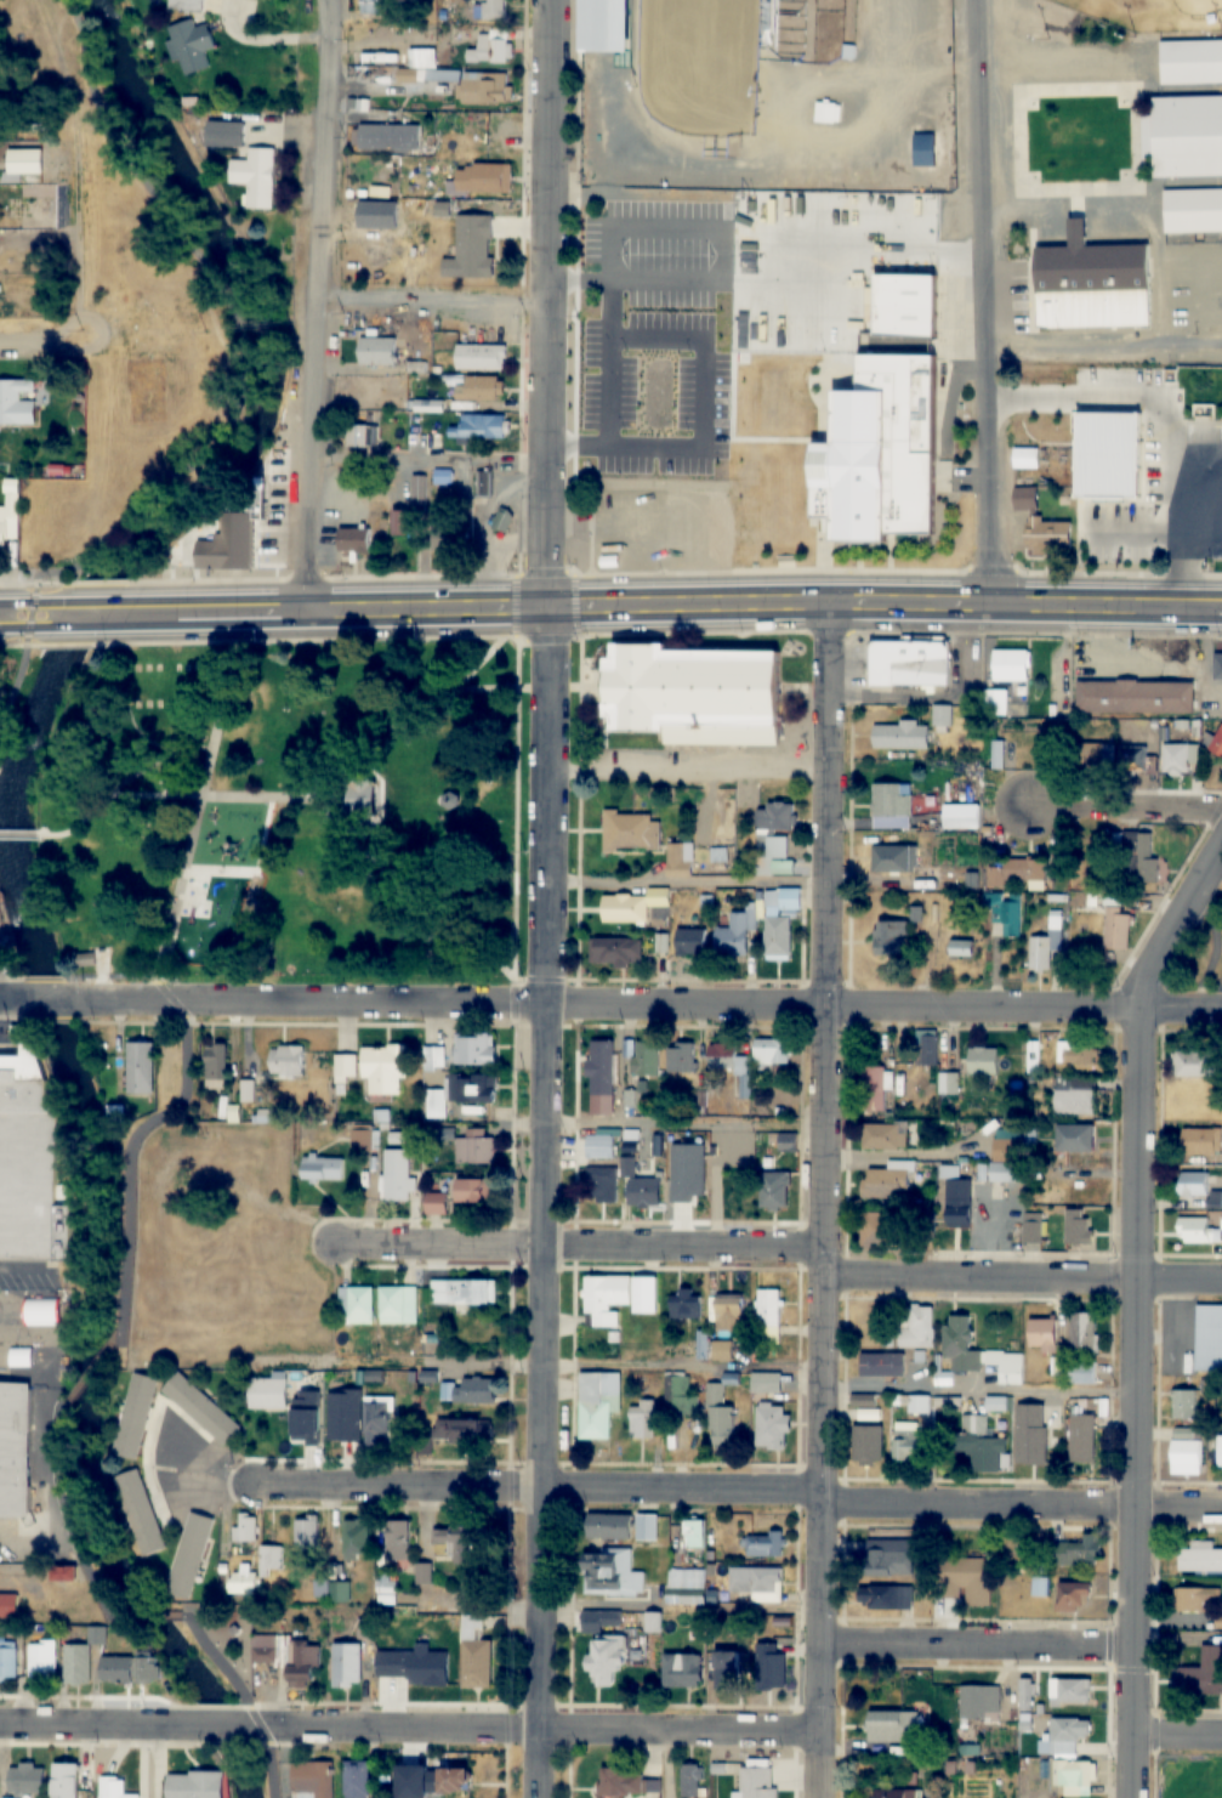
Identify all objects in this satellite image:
building: (187, 5)
building: (370, 7)
building: (499, 8)
park: (1158, 12)
building: (603, 27)
building: (189, 45)
building: (490, 49)
building: (1190, 63)
building: (455, 79)
building: (829, 112)
building: (224, 135)
building: (387, 137)
building: (1187, 137)
building: (925, 149)
building: (23, 163)
building: (260, 178)
building: (482, 178)
building: (1194, 210)
road: (596, 238)
building: (471, 249)
road: (570, 285)
building: (1093, 285)
road: (545, 302)
road: (972, 302)
road: (305, 306)
building: (903, 306)
road: (425, 307)
road: (27, 336)
parking lot: (640, 340)
building: (481, 358)
building: (479, 388)
road: (238, 395)
building: (648, 395)
road: (687, 399)
building: (1218, 401)
road: (1062, 402)
building: (16, 403)
building: (428, 405)
building: (479, 426)
building: (362, 436)
parking lot: (1193, 439)
building: (879, 452)
building: (1087, 458)
building: (443, 477)
building: (483, 484)
building: (251, 494)
building: (1027, 499)
building: (1217, 505)
building: (411, 514)
road: (1175, 521)
building: (2, 529)
building: (352, 533)
building: (1116, 535)
building: (1050, 537)
building: (237, 540)
road: (1195, 543)
building: (448, 545)
road: (669, 607)
road: (83, 616)
road: (23, 617)
building: (911, 664)
building: (1011, 664)
building: (1218, 667)
building: (1137, 691)
road: (516, 692)
road: (421, 699)
building: (995, 702)
parking lot: (0, 703)
building: (678, 703)
road: (227, 704)
building: (942, 715)
building: (905, 737)
building: (1217, 743)
building: (999, 756)
building: (1096, 758)
building: (1132, 758)
building: (1182, 758)
building: (18, 767)
road: (682, 772)
building: (451, 800)
building: (360, 802)
road: (1125, 804)
building: (892, 806)
road: (199, 813)
park: (285, 815)
building: (962, 816)
building: (775, 817)
building: (631, 833)
road: (19, 835)
building: (612, 841)
building: (894, 858)
building: (1146, 861)
building: (678, 863)
river: (15, 866)
road: (386, 870)
building: (1018, 870)
building: (931, 875)
building: (625, 909)
building: (1011, 914)
building: (780, 921)
building: (1118, 929)
road: (2, 932)
building: (734, 937)
building: (892, 937)
building: (690, 942)
building: (1046, 947)
building: (961, 948)
building: (616, 952)
building: (85, 958)
parking lot: (4, 963)
road: (5, 982)
road: (13, 1000)
road: (50, 1000)
road: (124, 1000)
road: (360, 1002)
road: (699, 1006)
road: (1036, 1009)
road: (7, 1033)
building: (474, 1048)
building: (928, 1048)
road: (10, 1050)
building: (773, 1051)
building: (1076, 1053)
building: (722, 1055)
building: (433, 1057)
building: (646, 1057)
building: (681, 1057)
building: (1034, 1057)
building: (289, 1061)
building: (983, 1061)
building: (1195, 1062)
building: (216, 1065)
building: (602, 1066)
building: (140, 1067)
building: (345, 1067)
building: (385, 1067)
building: (434, 1084)
building: (949, 1087)
building: (471, 1088)
building: (875, 1088)
building: (248, 1090)
building: (1075, 1096)
building: (434, 1104)
building: (114, 1113)
building: (233, 1113)
building: (265, 1116)
building: (380, 1116)
road: (686, 1124)
building: (385, 1127)
building: (442, 1134)
building: (885, 1136)
building: (396, 1138)
building: (1075, 1138)
building: (364, 1139)
building: (788, 1142)
building: (1197, 1142)
building: (601, 1145)
building: (862, 1145)
building: (474, 1147)
building: (689, 1156)
road: (127, 1157)
building: (1007, 1159)
building: (627, 1165)
building: (30, 1167)
building: (322, 1169)
building: (396, 1178)
building: (888, 1181)
building: (738, 1182)
building: (1192, 1182)
building: (603, 1185)
building: (774, 1190)
building: (472, 1191)
building: (644, 1192)
road: (545, 1202)
road: (826, 1202)
building: (959, 1202)
building: (438, 1203)
building: (1079, 1226)
building: (1193, 1226)
building: (1034, 1227)
building: (877, 1229)
road: (581, 1246)
road: (25, 1267)
parking lot: (29, 1275)
road: (1023, 1284)
building: (464, 1293)
building: (618, 1298)
building: (686, 1305)
building: (356, 1306)
building: (398, 1306)
road: (1138, 1314)
building: (729, 1315)
building: (769, 1317)
building: (916, 1328)
building: (1084, 1332)
building: (1044, 1335)
building: (432, 1338)
building: (1210, 1340)
building: (961, 1348)
building: (706, 1350)
road: (544, 1366)
building: (883, 1366)
building: (1007, 1367)
road: (89, 1372)
building: (865, 1373)
building: (1084, 1374)
building: (374, 1376)
building: (357, 1377)
building: (411, 1377)
building: (428, 1378)
building: (767, 1383)
building: (476, 1391)
road: (982, 1391)
building: (268, 1394)
building: (680, 1396)
building: (598, 1403)
building: (914, 1403)
building: (996, 1405)
building: (1186, 1406)
building: (200, 1408)
building: (133, 1416)
building: (720, 1416)
building: (343, 1417)
building: (307, 1419)
building: (377, 1419)
building: (641, 1420)
building: (772, 1428)
road: (184, 1434)
building: (465, 1434)
building: (1031, 1435)
building: (1082, 1439)
building: (909, 1441)
building: (868, 1445)
building: (425, 1446)
building: (983, 1447)
building: (15, 1450)
building: (1220, 1452)
building: (1186, 1453)
road: (193, 1467)
parking lot: (191, 1473)
road: (478, 1486)
road: (765, 1488)
road: (42, 1490)
road: (181, 1493)
building: (138, 1511)
road: (1022, 1511)
road: (67, 1516)
building: (609, 1527)
building: (647, 1527)
building: (244, 1530)
building: (307, 1532)
building: (694, 1535)
building: (356, 1538)
parking lot: (13, 1539)
building: (398, 1541)
building: (456, 1544)
building: (765, 1544)
building: (1079, 1552)
building: (188, 1555)
building: (889, 1556)
building: (269, 1560)
building: (1200, 1560)
building: (63, 1573)
building: (422, 1573)
building: (610, 1573)
building: (687, 1579)
building: (968, 1579)
building: (756, 1581)
building: (244, 1583)
building: (386, 1583)
building: (320, 1587)
building: (339, 1592)
building: (886, 1596)
building: (1067, 1596)
building: (1198, 1599)
building: (386, 1600)
building: (8, 1605)
road: (148, 1615)
building: (609, 1618)
building: (1218, 1623)
building: (363, 1629)
building: (409, 1632)
building: (96, 1634)
building: (448, 1637)
park: (221, 1643)
road: (979, 1646)
building: (473, 1655)
building: (288, 1656)
building: (7, 1661)
building: (604, 1661)
building: (42, 1662)
building: (76, 1663)
building: (345, 1664)
building: (769, 1666)
building: (146, 1668)
building: (116, 1671)
building: (682, 1671)
building: (726, 1671)
building: (388, 1674)
building: (427, 1675)
building: (1201, 1675)
building: (1070, 1692)
building: (1027, 1695)
road: (243, 1698)
building: (981, 1703)
road: (98, 1724)
road: (221, 1725)
road: (534, 1726)
building: (893, 1726)
building: (1069, 1735)
road: (1178, 1741)
building: (1070, 1774)
building: (385, 1776)
building: (27, 1779)
building: (64, 1780)
building: (312, 1780)
building: (356, 1780)
building: (445, 1781)
building: (692, 1781)
building: (757, 1782)
building: (197, 1785)
building: (626, 1785)
building: (112, 1788)
building: (889, 1793)

